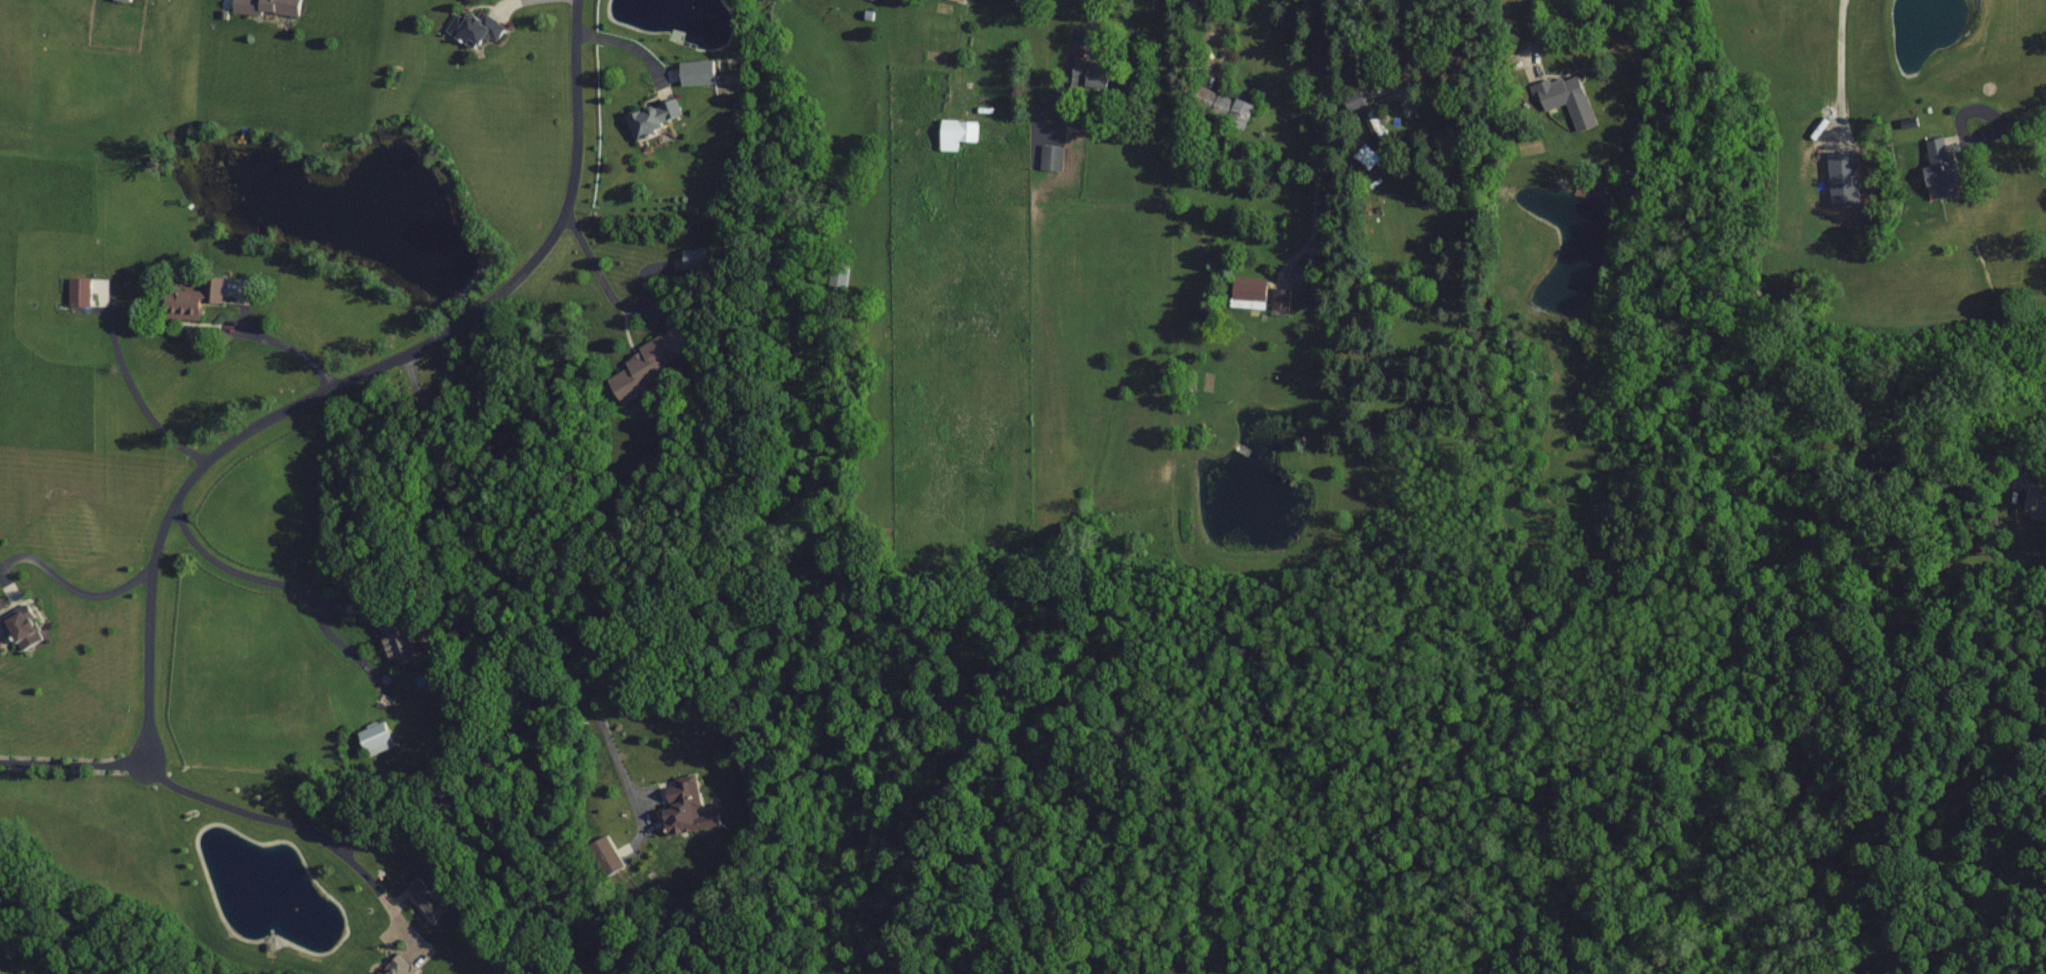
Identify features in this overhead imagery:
building: (276, 6)
road: (1088, 13)
road: (1221, 31)
road: (625, 34)
road: (1533, 36)
road: (1841, 65)
building: (703, 71)
building: (1580, 115)
road: (2029, 116)
building: (662, 117)
road: (1317, 118)
road: (1958, 121)
building: (953, 133)
building: (1048, 156)
building: (1843, 161)
building: (1939, 166)
park: (1919, 214)
building: (695, 257)
road: (599, 264)
road: (1292, 276)
building: (201, 299)
road: (291, 348)
road: (358, 372)
road: (140, 391)
road: (275, 572)
road: (70, 584)
road: (537, 592)
building: (30, 627)
road: (73, 753)
road: (237, 798)
building: (670, 802)
road: (370, 869)
road: (438, 875)

